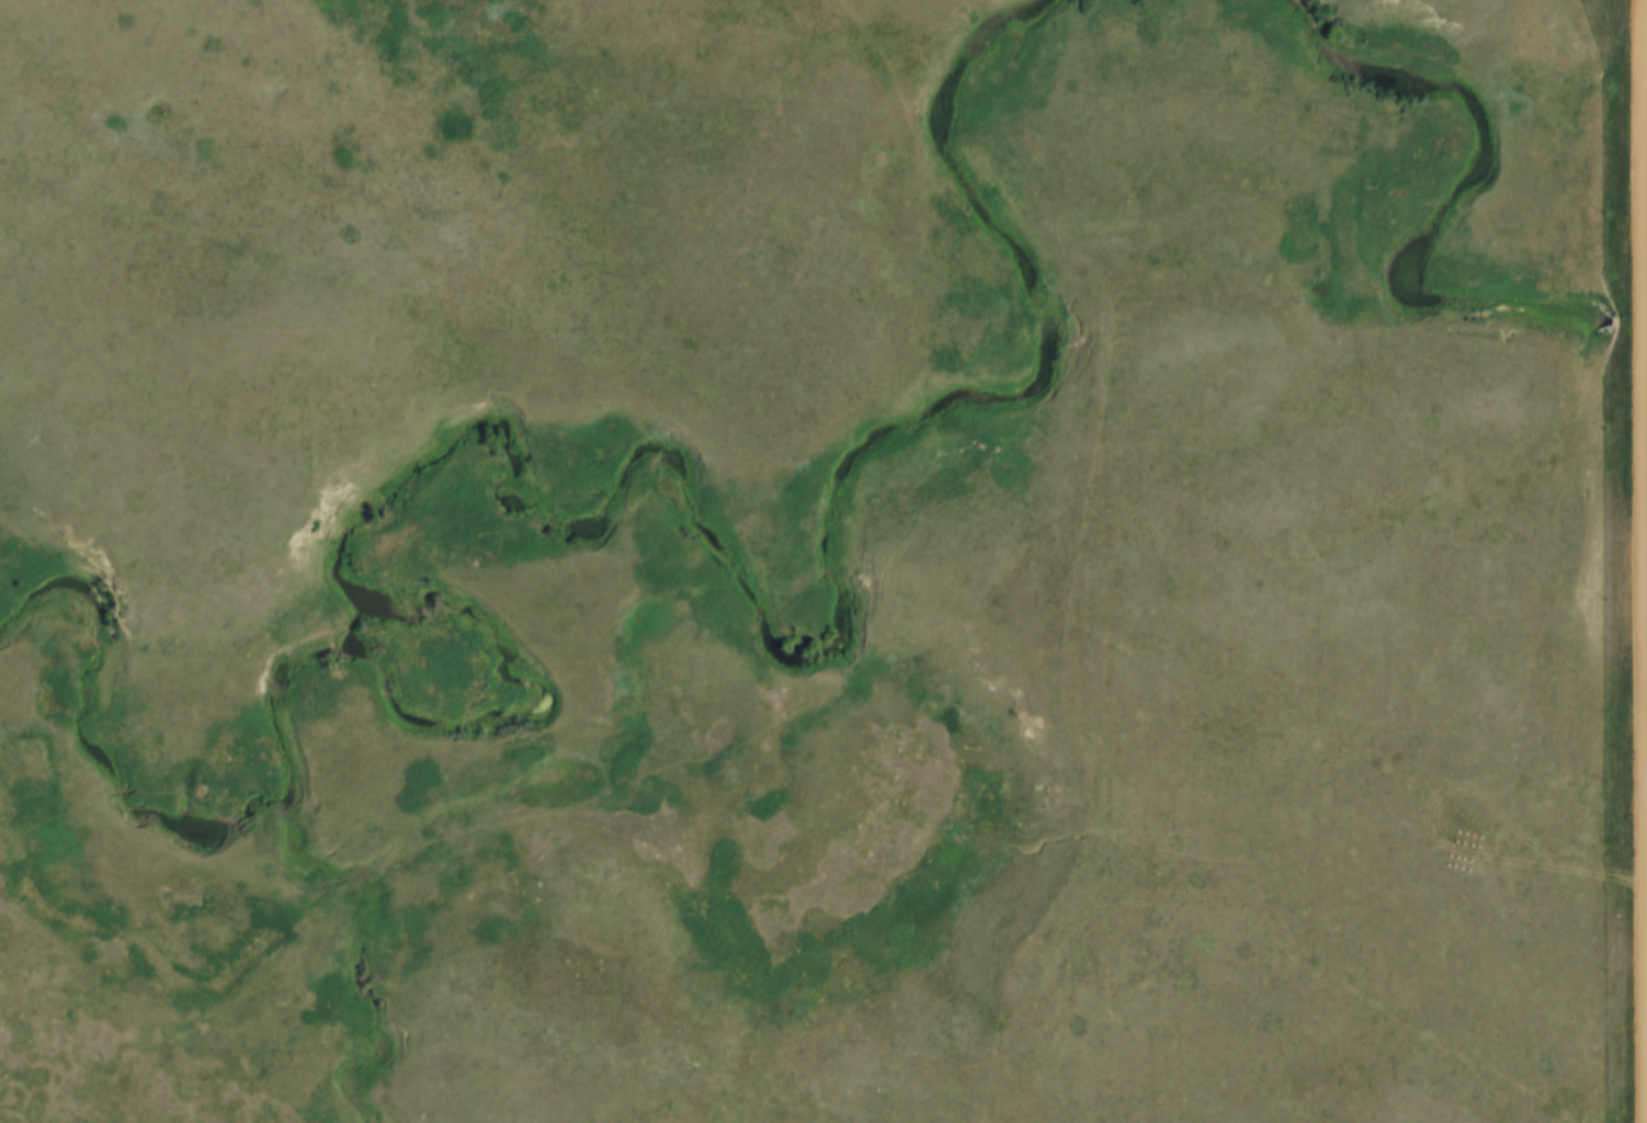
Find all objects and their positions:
road: (1644, 497)
road: (1646, 1112)

